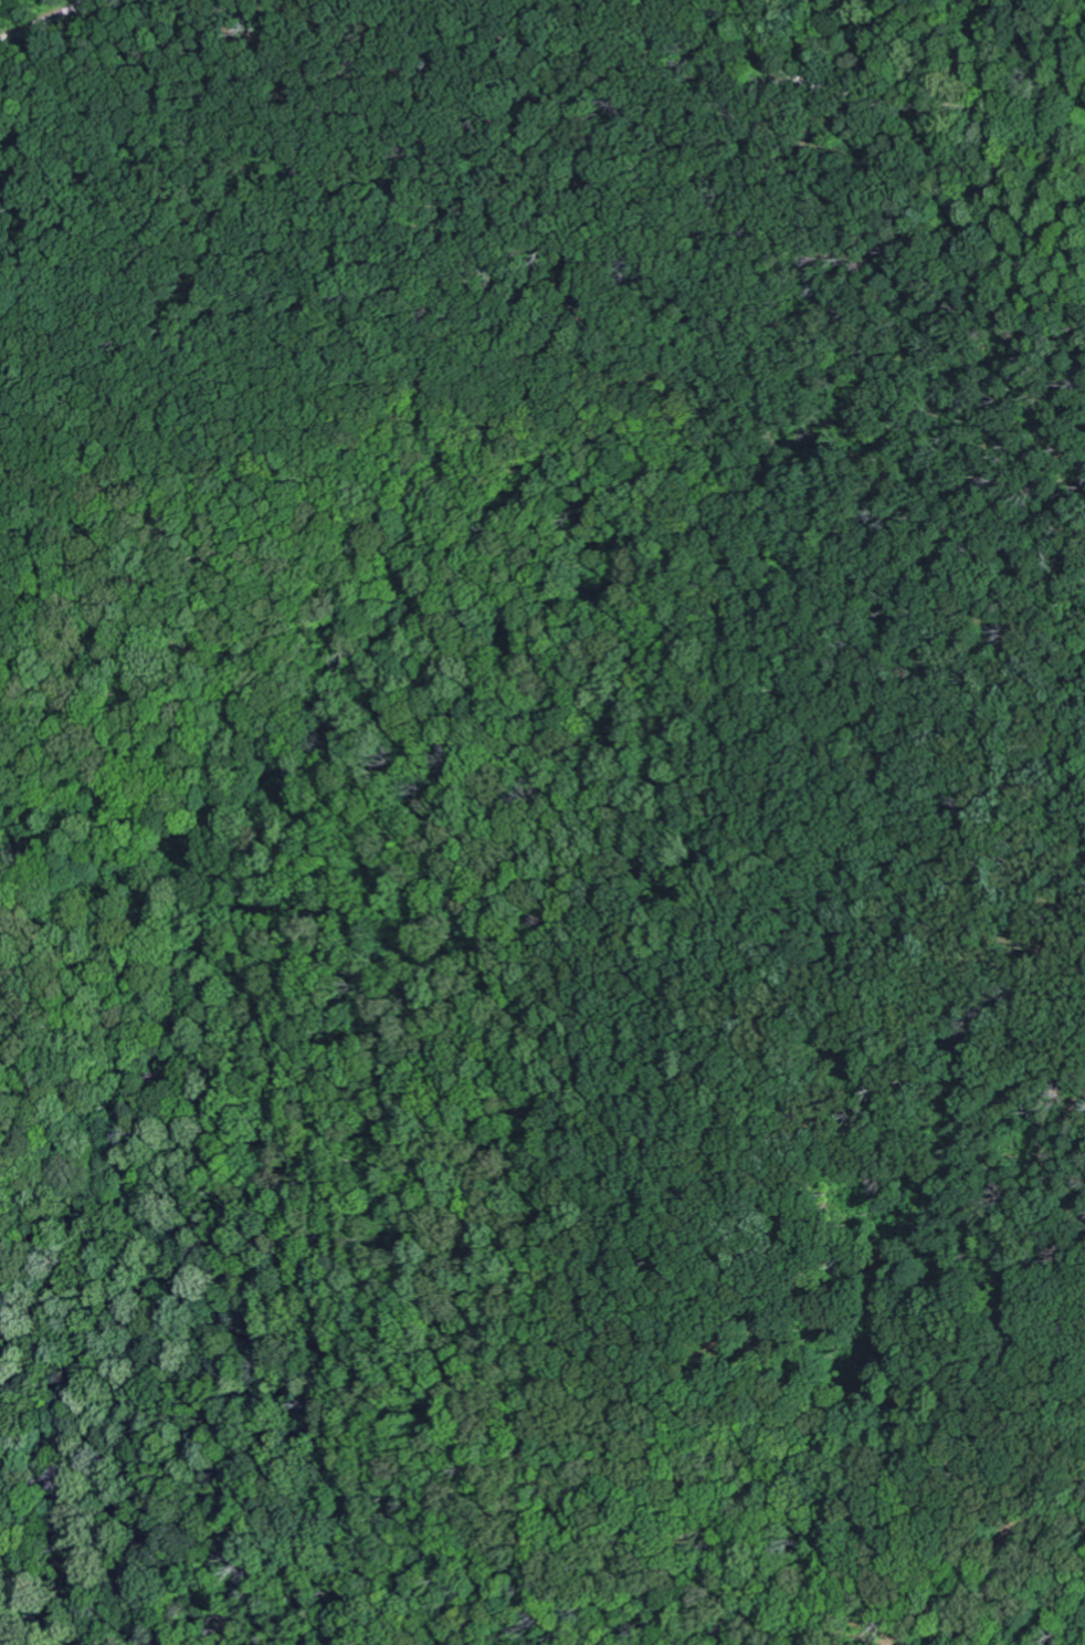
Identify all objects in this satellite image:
road: (43, 19)
road: (874, 103)
road: (256, 1049)

